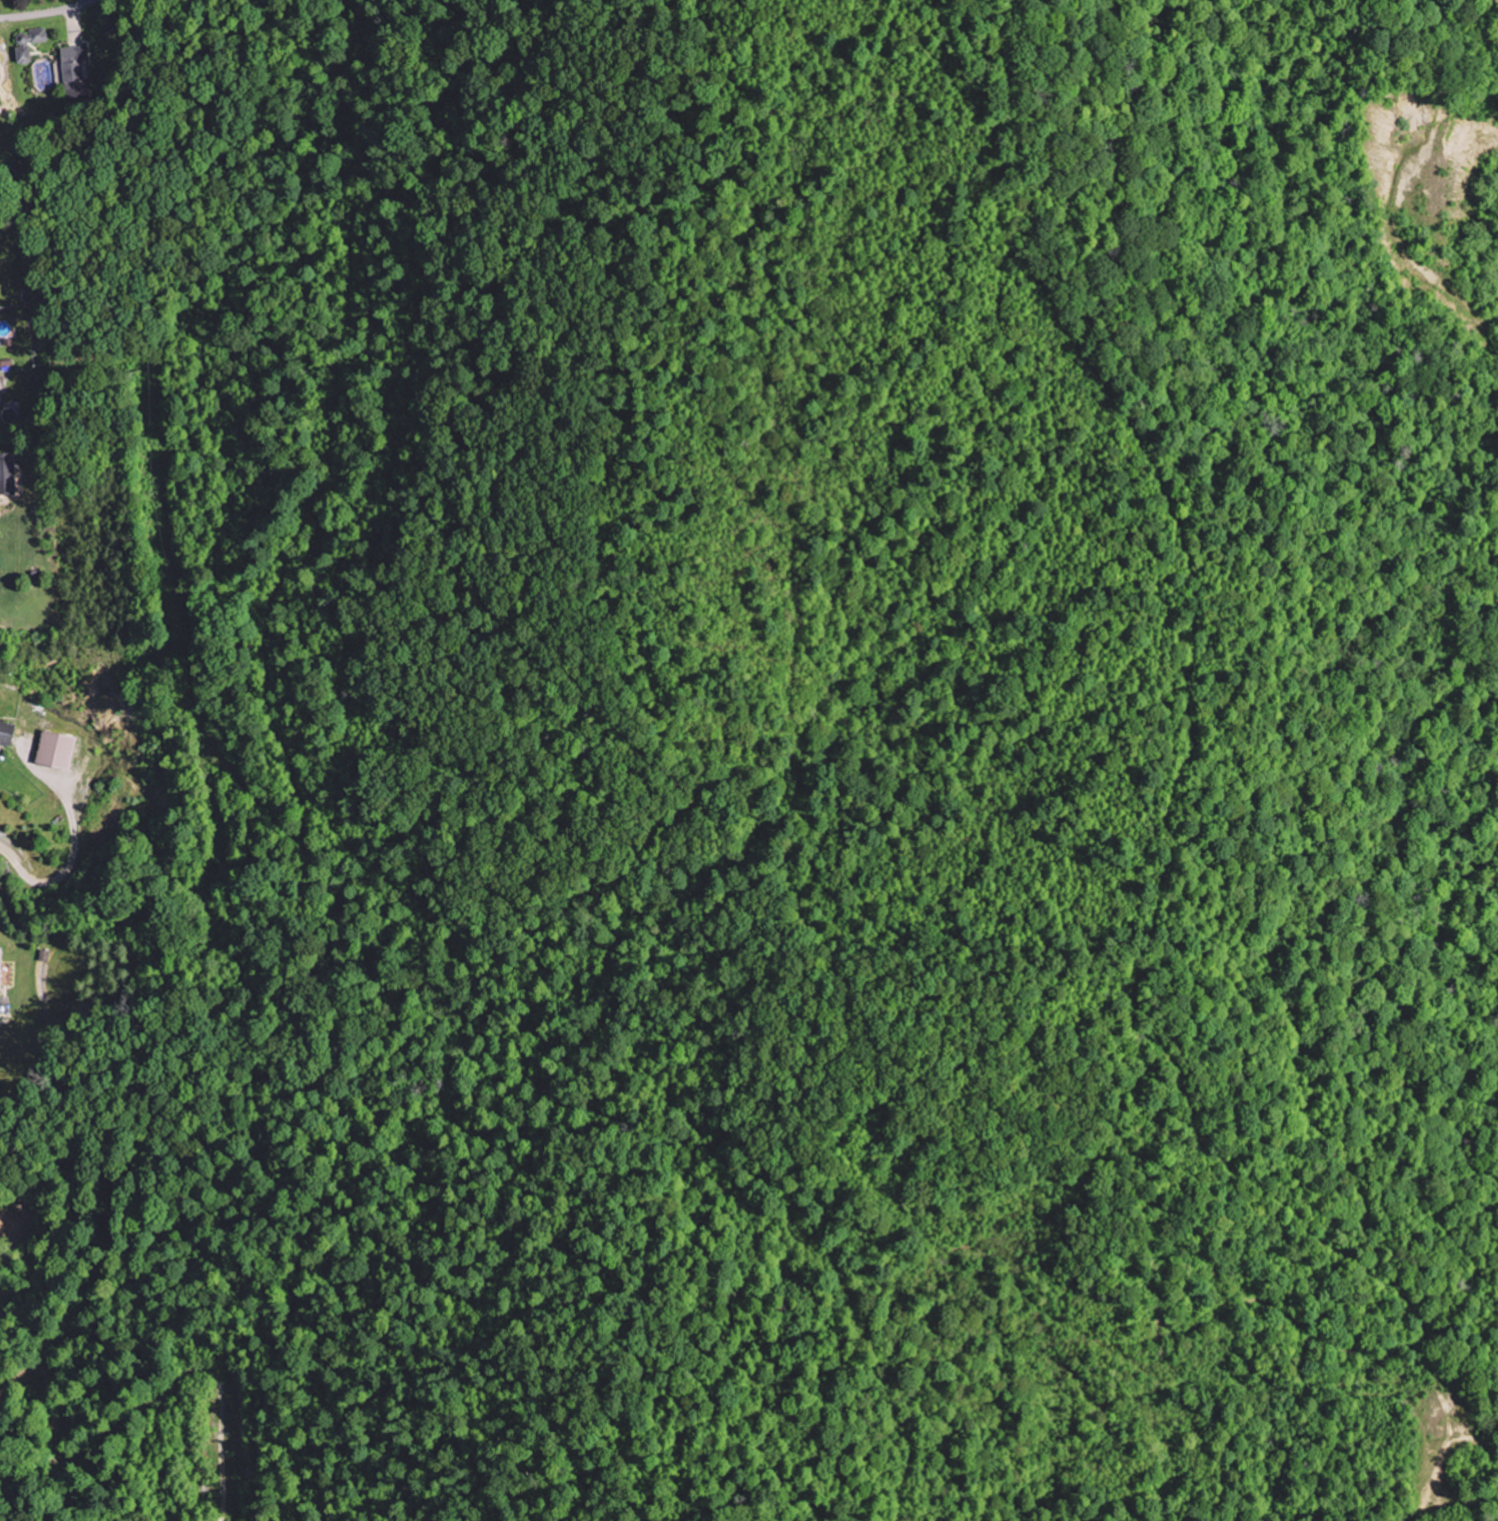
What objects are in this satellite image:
road: (45, 12)
building: (72, 73)
road: (1398, 239)
building: (7, 475)
building: (6, 735)
building: (51, 751)
road: (1181, 789)
building: (0, 961)

